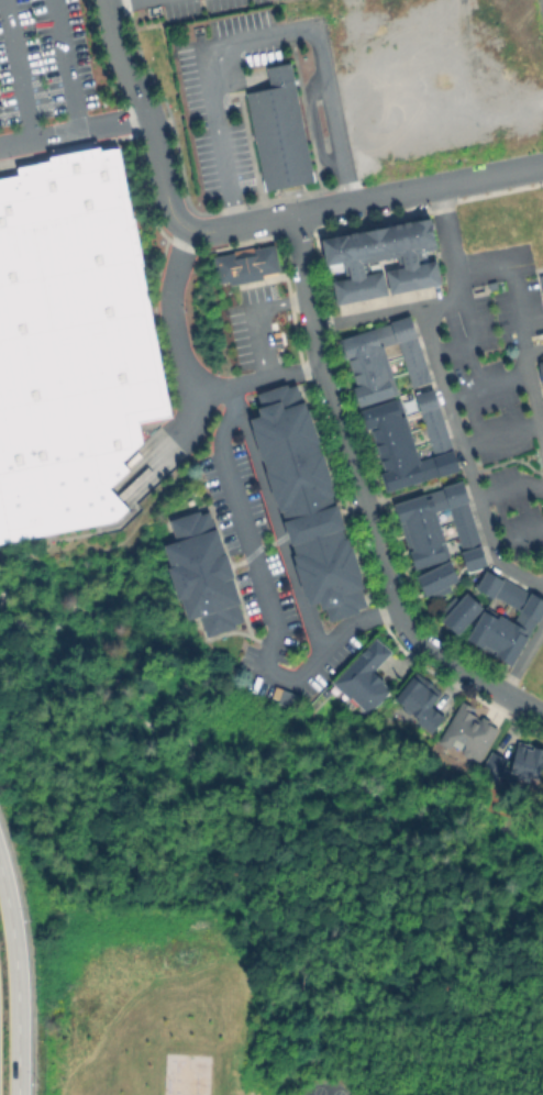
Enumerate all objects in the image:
road: (122, 2)
road: (254, 35)
road: (65, 66)
road: (15, 70)
parking lot: (46, 77)
road: (149, 117)
building: (281, 130)
road: (75, 132)
road: (453, 182)
road: (278, 218)
building: (419, 262)
building: (248, 265)
road: (509, 273)
building: (540, 279)
road: (441, 300)
road: (256, 318)
building: (70, 346)
building: (380, 356)
building: (542, 363)
road: (187, 370)
road: (487, 386)
road: (531, 391)
road: (498, 434)
road: (174, 440)
building: (410, 442)
road: (463, 460)
road: (358, 485)
road: (508, 488)
building: (304, 500)
road: (513, 529)
road: (276, 530)
building: (436, 534)
building: (200, 574)
road: (2, 582)
road: (2, 590)
road: (266, 604)
building: (458, 612)
building: (528, 619)
road: (522, 655)
building: (362, 676)
building: (420, 698)
building: (285, 699)
road: (529, 706)
building: (468, 731)
building: (525, 759)
road: (268, 775)
park: (202, 781)
park: (539, 872)
road: (16, 982)

